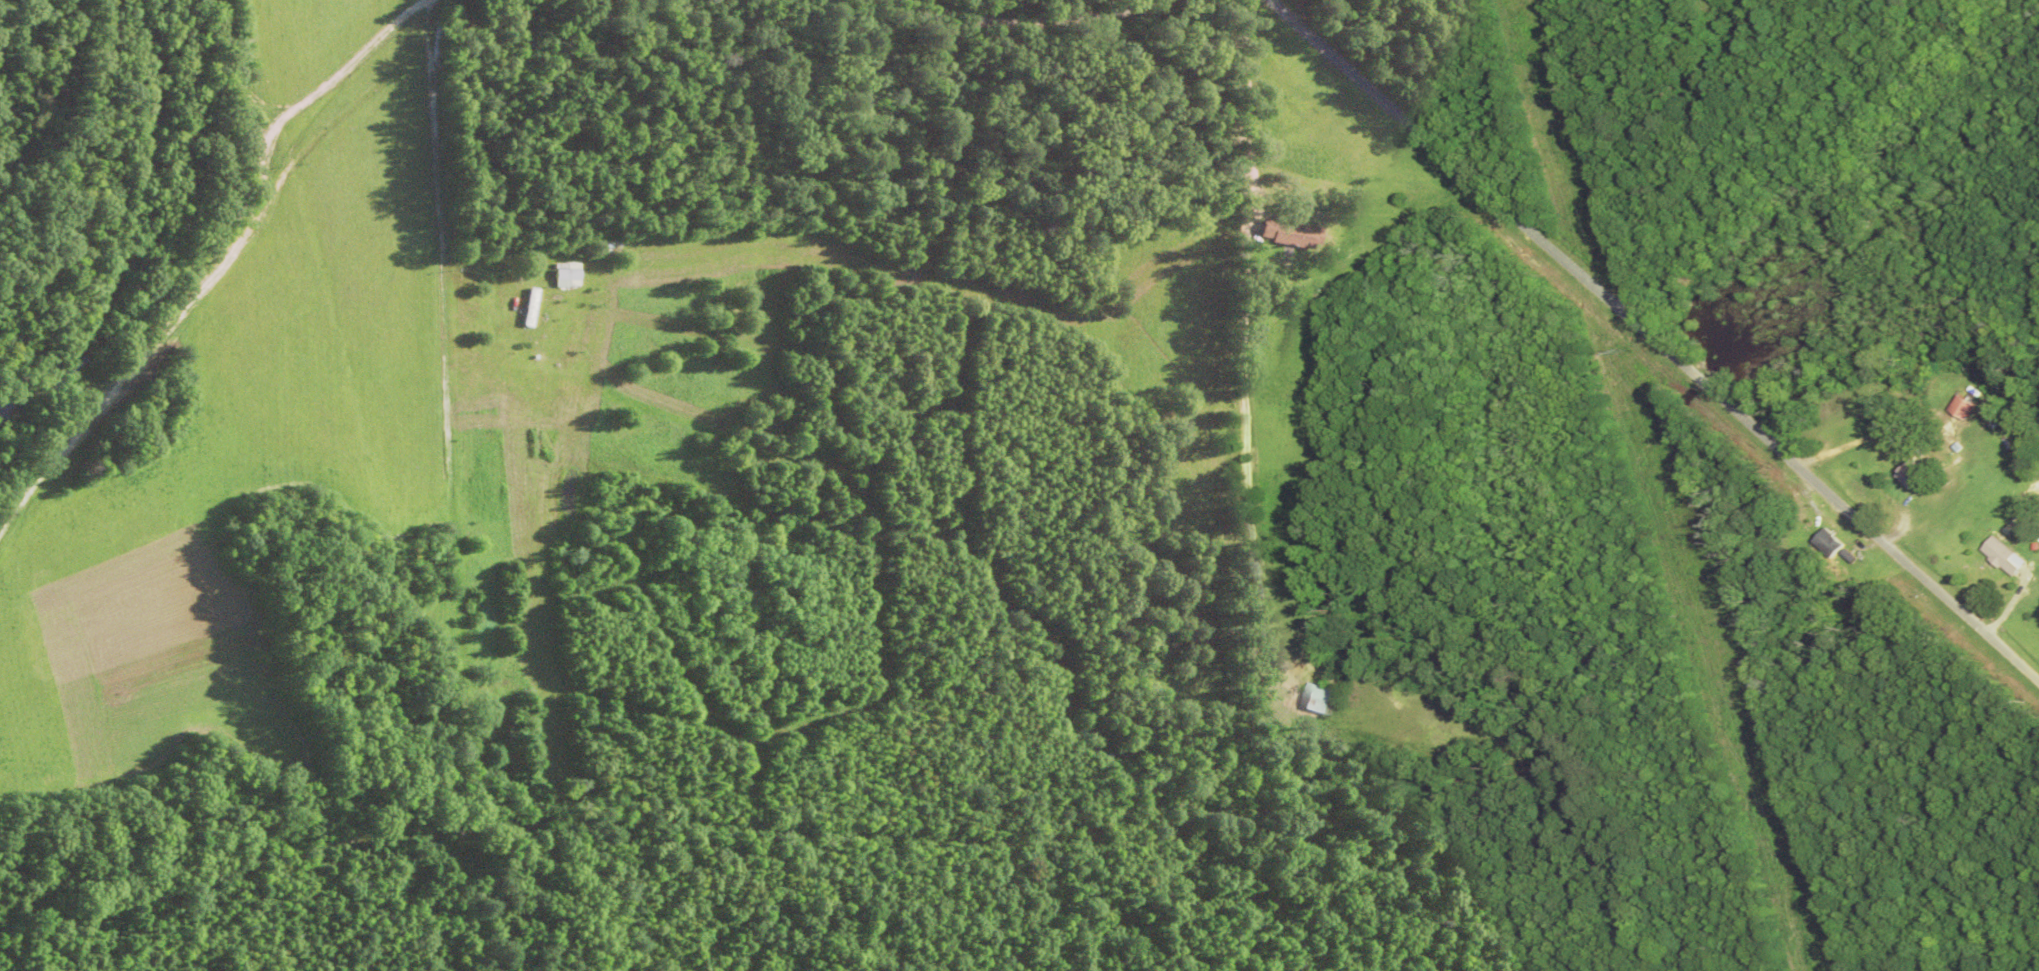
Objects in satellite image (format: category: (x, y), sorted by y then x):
road: (1017, 27)
building: (1295, 236)
building: (569, 275)
building: (530, 307)
building: (1963, 408)
building: (1912, 474)
building: (1835, 533)
building: (2005, 556)
building: (1292, 561)
building: (1319, 700)

